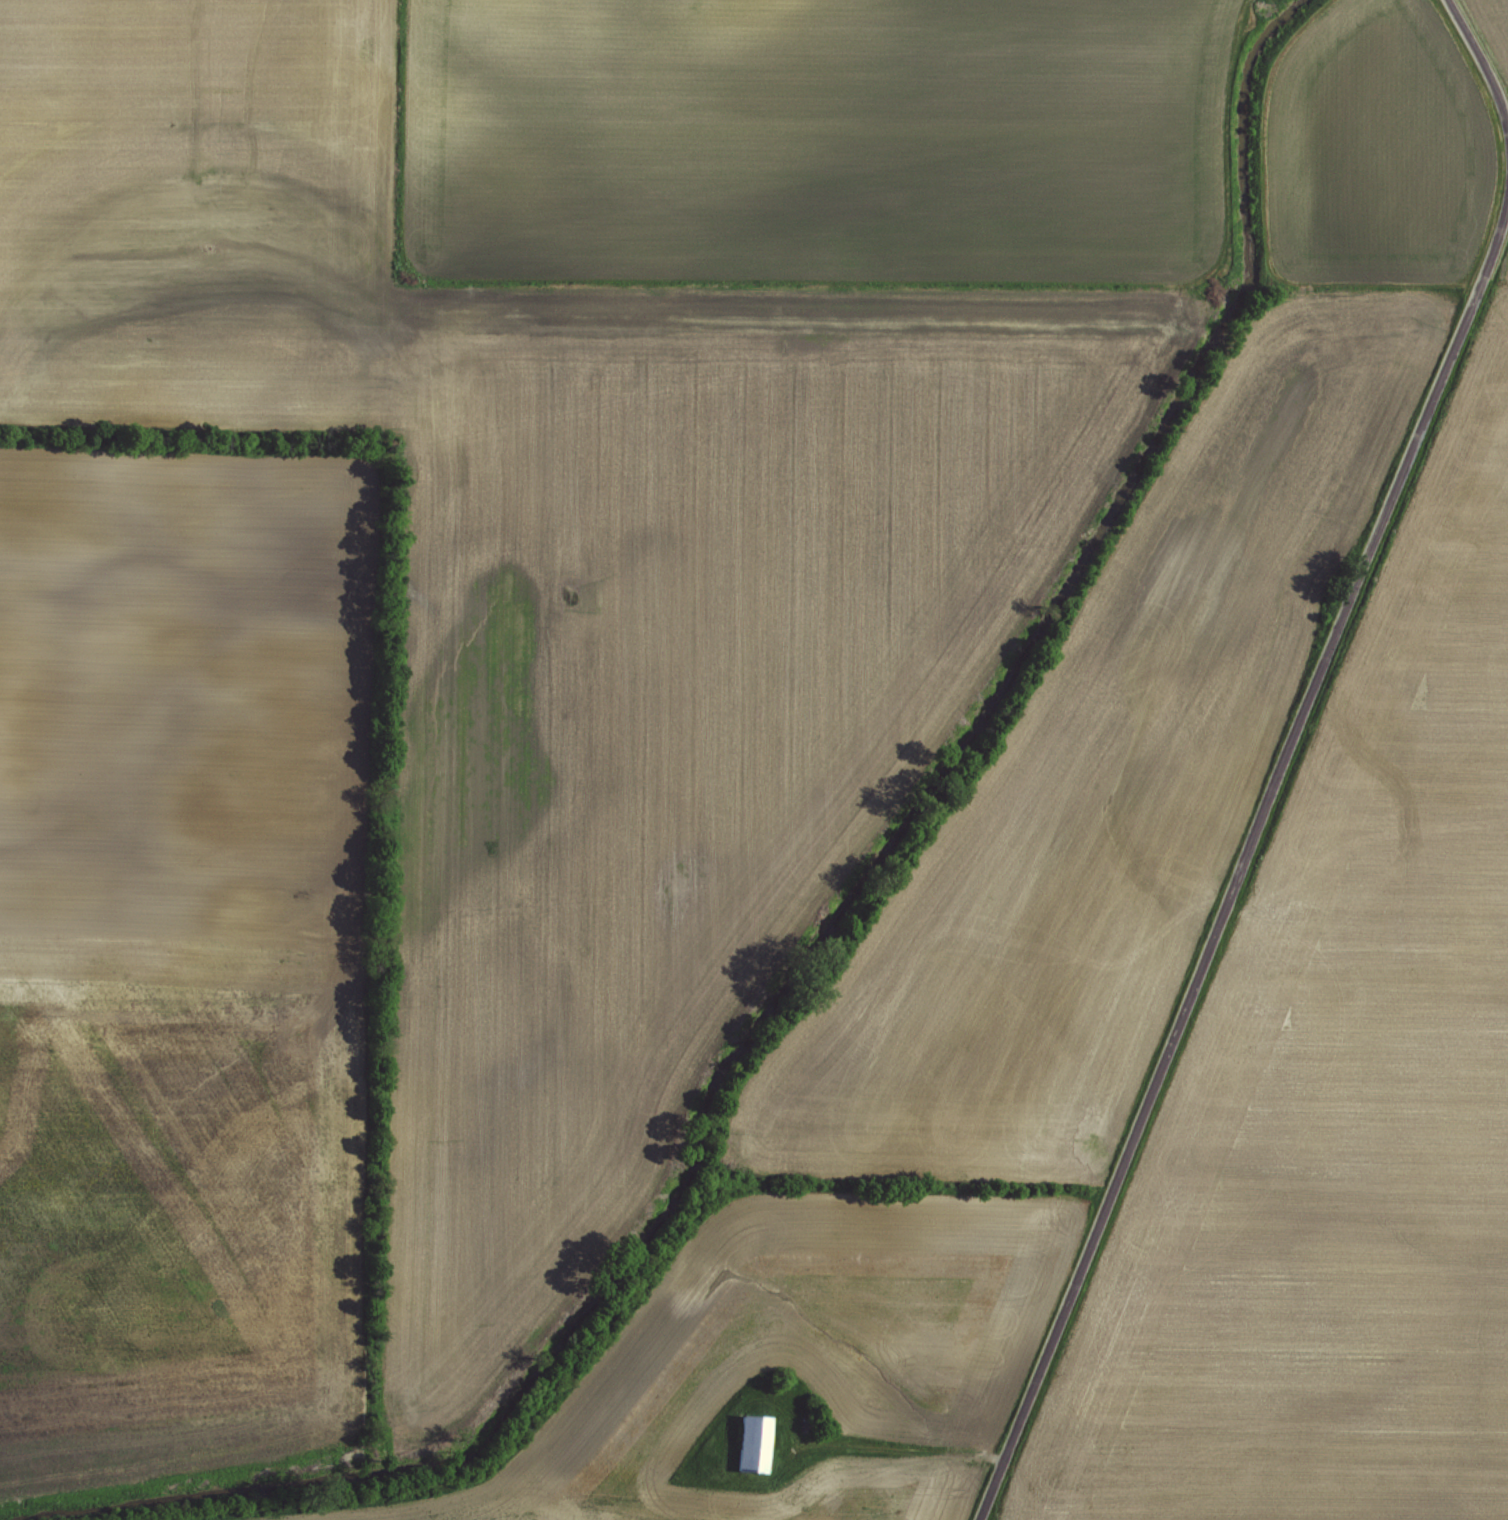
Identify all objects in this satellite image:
road: (1477, 60)
road: (1242, 863)
building: (748, 1443)
road: (888, 1452)

